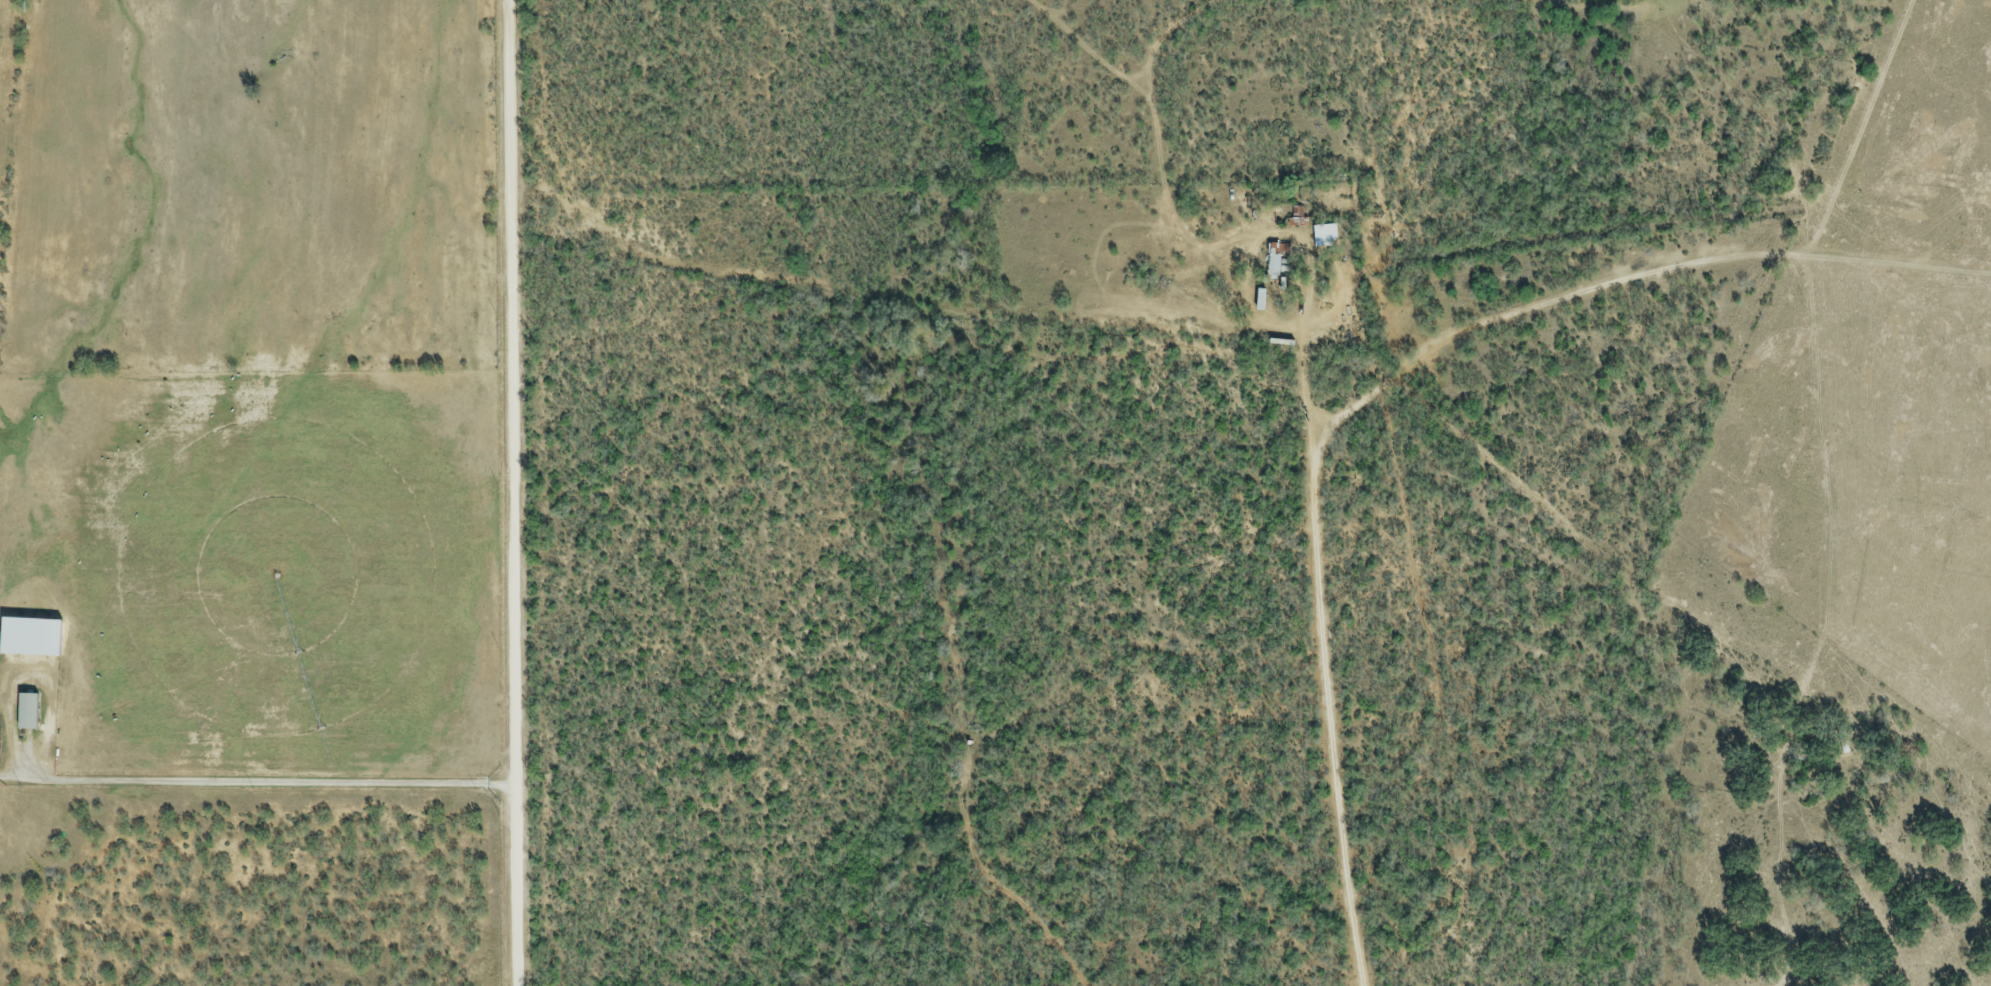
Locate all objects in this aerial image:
building: (1271, 266)
road: (939, 303)
road: (1377, 394)
road: (513, 493)
building: (25, 714)
road: (258, 782)

